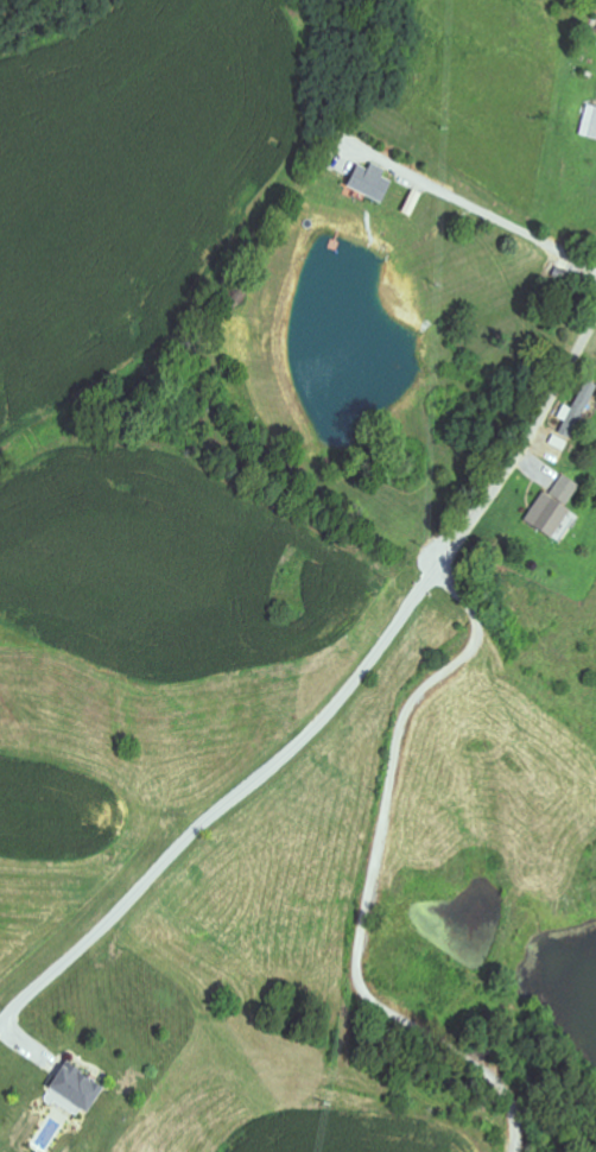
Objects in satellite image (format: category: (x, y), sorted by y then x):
building: (590, 124)
building: (374, 183)
building: (578, 413)
road: (527, 432)
building: (557, 511)
building: (77, 1090)

